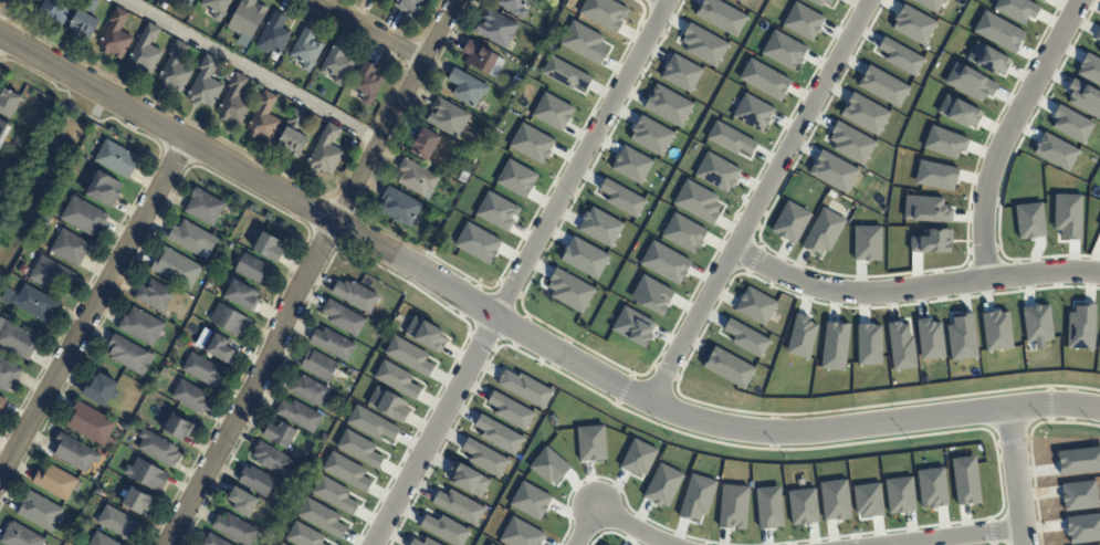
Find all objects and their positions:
road: (667, 0)
building: (1040, 0)
building: (737, 1)
building: (820, 1)
building: (185, 2)
building: (930, 4)
building: (164, 7)
building: (409, 7)
building: (514, 7)
building: (217, 8)
building: (1016, 9)
building: (56, 10)
road: (8, 13)
building: (604, 13)
building: (721, 15)
building: (247, 20)
building: (85, 21)
building: (803, 21)
building: (913, 24)
building: (195, 27)
building: (497, 29)
road: (371, 30)
building: (998, 32)
building: (274, 35)
building: (116, 38)
building: (1098, 38)
building: (583, 42)
building: (703, 45)
building: (784, 50)
building: (306, 51)
building: (1099, 52)
building: (146, 53)
building: (900, 56)
building: (480, 59)
building: (986, 59)
building: (338, 65)
building: (1090, 69)
building: (176, 70)
road: (250, 71)
building: (681, 73)
building: (564, 74)
building: (229, 77)
building: (764, 78)
building: (968, 83)
building: (312, 84)
building: (367, 84)
building: (206, 85)
building: (882, 86)
building: (468, 88)
building: (1083, 98)
building: (505, 101)
building: (234, 103)
building: (8, 104)
building: (668, 106)
building: (552, 112)
building: (958, 112)
building: (753, 113)
building: (865, 114)
building: (449, 118)
building: (264, 119)
building: (1071, 124)
building: (491, 128)
building: (35, 132)
building: (3, 133)
road: (1007, 133)
building: (650, 135)
building: (293, 136)
building: (730, 138)
building: (531, 143)
building: (850, 143)
building: (944, 143)
building: (354, 144)
building: (425, 145)
building: (1055, 151)
building: (326, 153)
building: (116, 160)
building: (474, 161)
building: (631, 165)
building: (716, 171)
building: (834, 171)
building: (935, 176)
building: (516, 178)
building: (418, 180)
building: (443, 185)
building: (103, 190)
building: (621, 198)
building: (696, 201)
road: (759, 201)
building: (205, 206)
building: (400, 208)
building: (925, 209)
building: (496, 211)
building: (1067, 216)
building: (83, 218)
building: (1029, 221)
building: (790, 222)
building: (599, 227)
building: (1099, 228)
building: (823, 231)
building: (683, 233)
building: (190, 237)
building: (931, 241)
building: (478, 243)
building: (867, 243)
building: (266, 245)
building: (70, 248)
building: (584, 258)
building: (664, 262)
building: (177, 268)
building: (254, 269)
road: (308, 271)
road: (518, 271)
building: (50, 275)
building: (207, 285)
road: (912, 289)
building: (569, 290)
building: (241, 294)
building: (356, 294)
building: (155, 295)
building: (651, 295)
building: (34, 304)
building: (755, 306)
road: (92, 308)
building: (344, 317)
building: (230, 319)
building: (1037, 324)
building: (142, 326)
building: (632, 326)
building: (1081, 327)
building: (195, 328)
building: (996, 331)
road: (524, 332)
building: (426, 334)
building: (746, 337)
building: (800, 337)
building: (962, 337)
building: (929, 338)
building: (17, 342)
building: (333, 344)
building: (868, 344)
building: (835, 346)
building: (900, 346)
building: (219, 347)
building: (129, 354)
building: (408, 356)
building: (318, 365)
building: (727, 367)
building: (203, 370)
building: (8, 376)
building: (396, 379)
building: (525, 388)
building: (102, 389)
building: (310, 389)
building: (191, 397)
building: (1, 403)
building: (387, 405)
building: (510, 410)
building: (300, 415)
building: (90, 422)
building: (371, 423)
building: (119, 427)
building: (177, 427)
building: (280, 434)
building: (497, 434)
building: (590, 443)
building: (158, 448)
building: (358, 449)
building: (74, 452)
building: (484, 458)
building: (638, 458)
building: (274, 460)
building: (1079, 461)
building: (548, 465)
building: (346, 471)
building: (146, 473)
road: (1016, 475)
building: (468, 479)
building: (965, 480)
building: (256, 481)
building: (57, 482)
building: (662, 485)
building: (931, 488)
building: (334, 494)
building: (899, 494)
building: (1079, 495)
building: (695, 496)
building: (835, 499)
building: (137, 500)
building: (530, 500)
building: (868, 500)
building: (243, 501)
building: (458, 505)
building: (733, 506)
building: (803, 506)
building: (768, 507)
building: (40, 511)
building: (321, 517)
building: (118, 522)
road: (588, 525)
road: (635, 526)
building: (235, 528)
building: (1082, 528)
building: (444, 530)
building: (521, 534)
building: (303, 535)
building: (21, 536)
road: (963, 538)
building: (102, 541)
building: (214, 541)
building: (422, 542)
building: (281, 544)
building: (491, 544)

